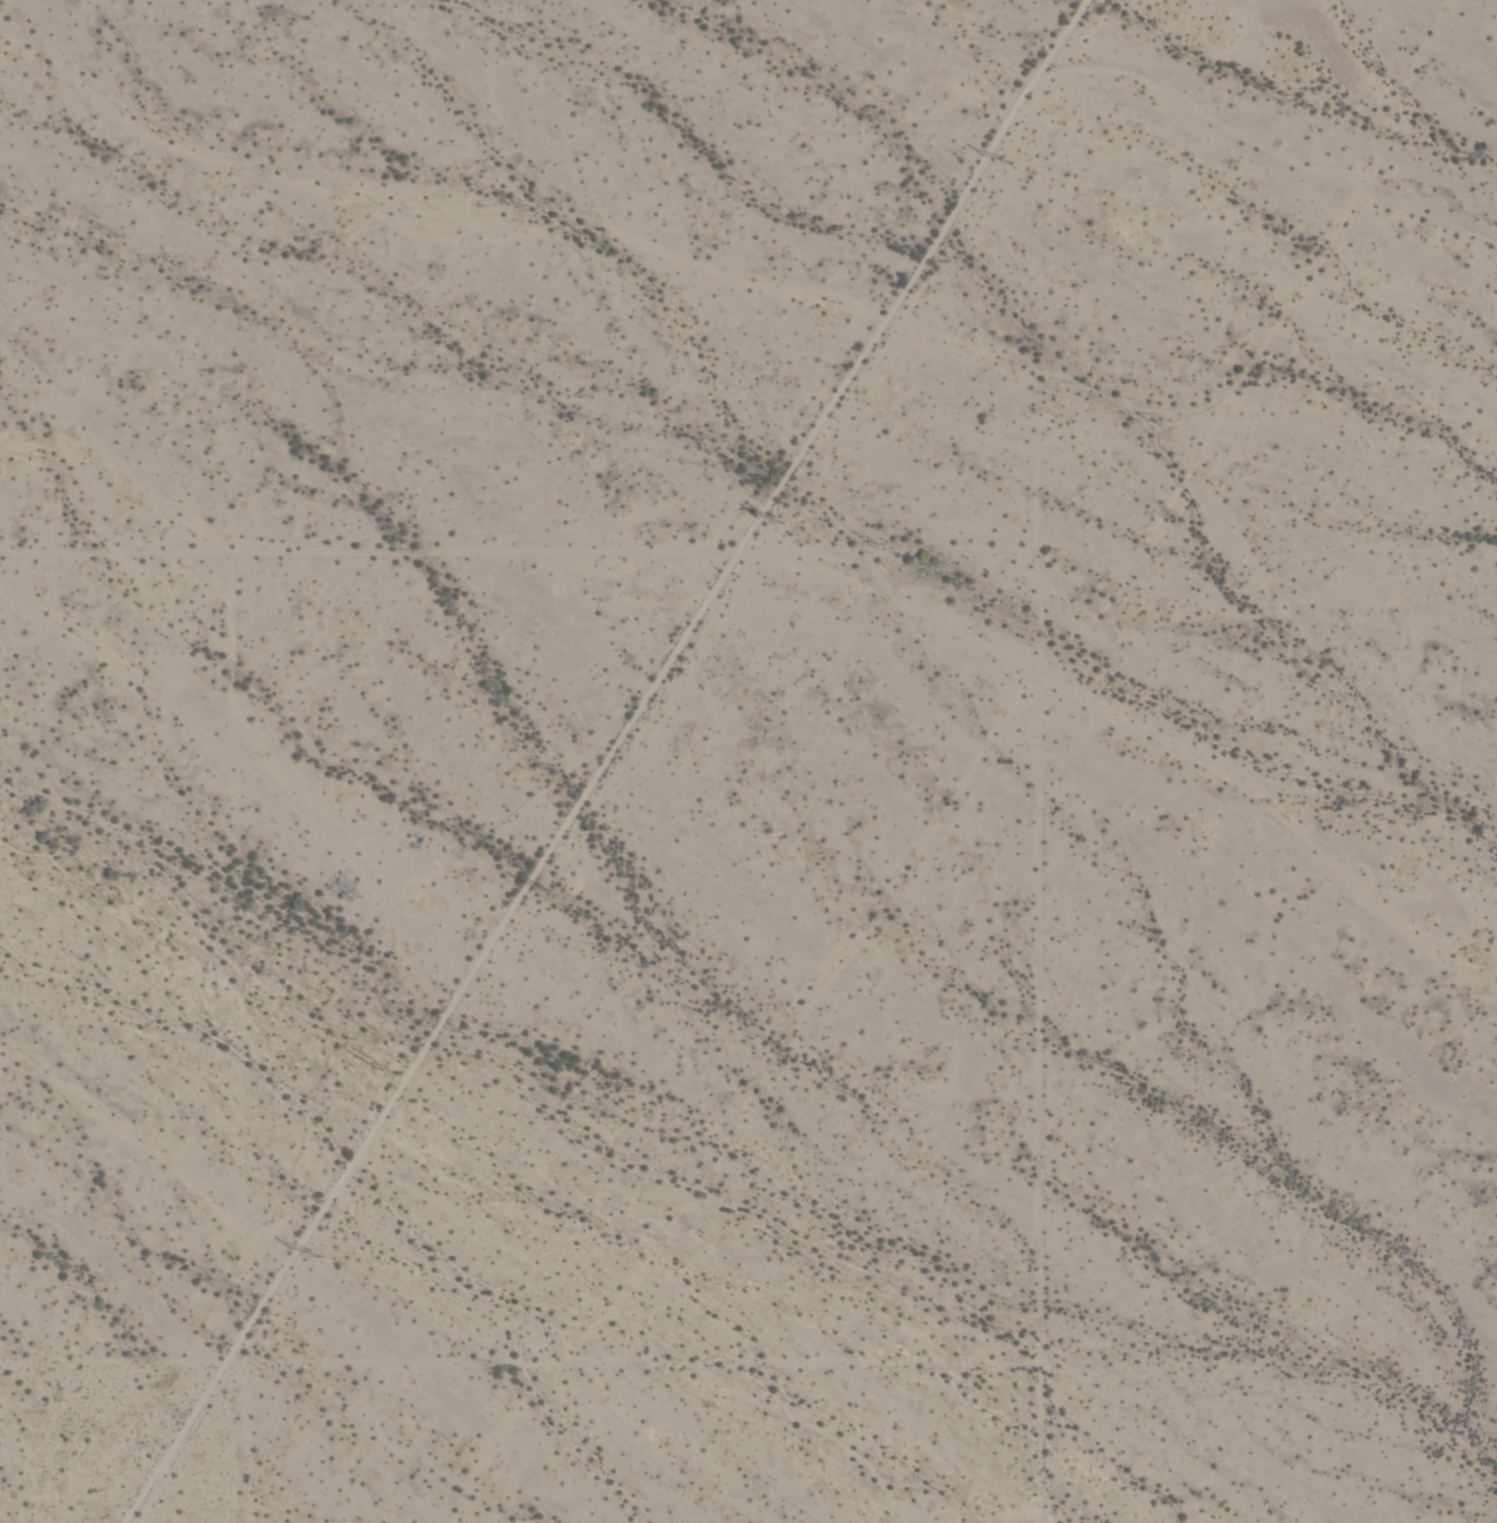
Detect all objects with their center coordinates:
power tower: (1008, 161)
power tower: (783, 524)
road: (1008, 543)
power tower: (551, 886)
road: (443, 1012)
road: (208, 1057)
power tower: (318, 1253)
road: (499, 1357)

